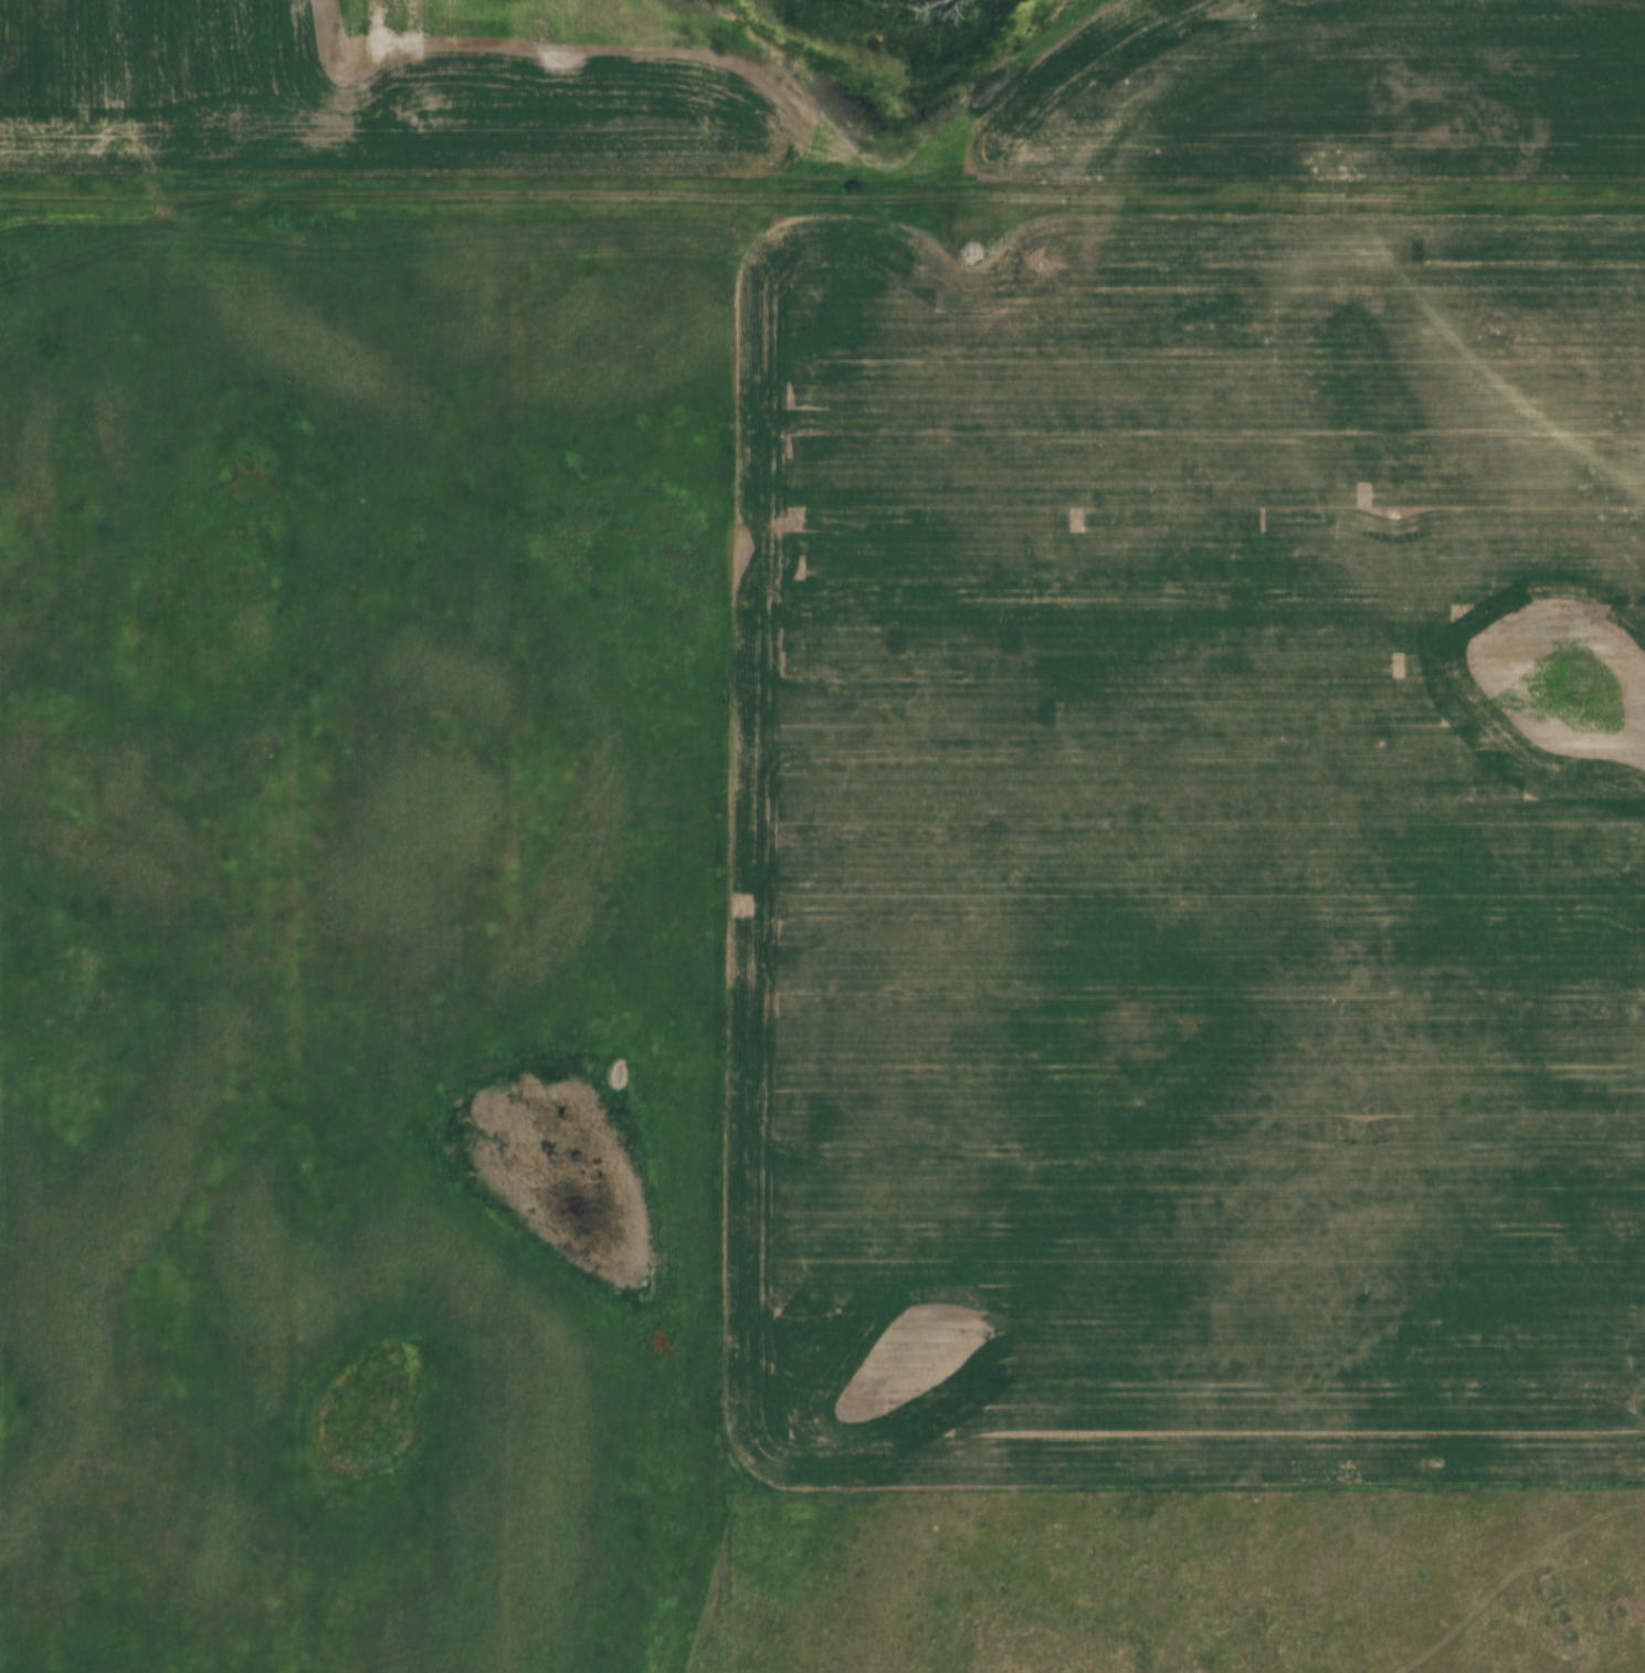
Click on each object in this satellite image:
road: (822, 191)

